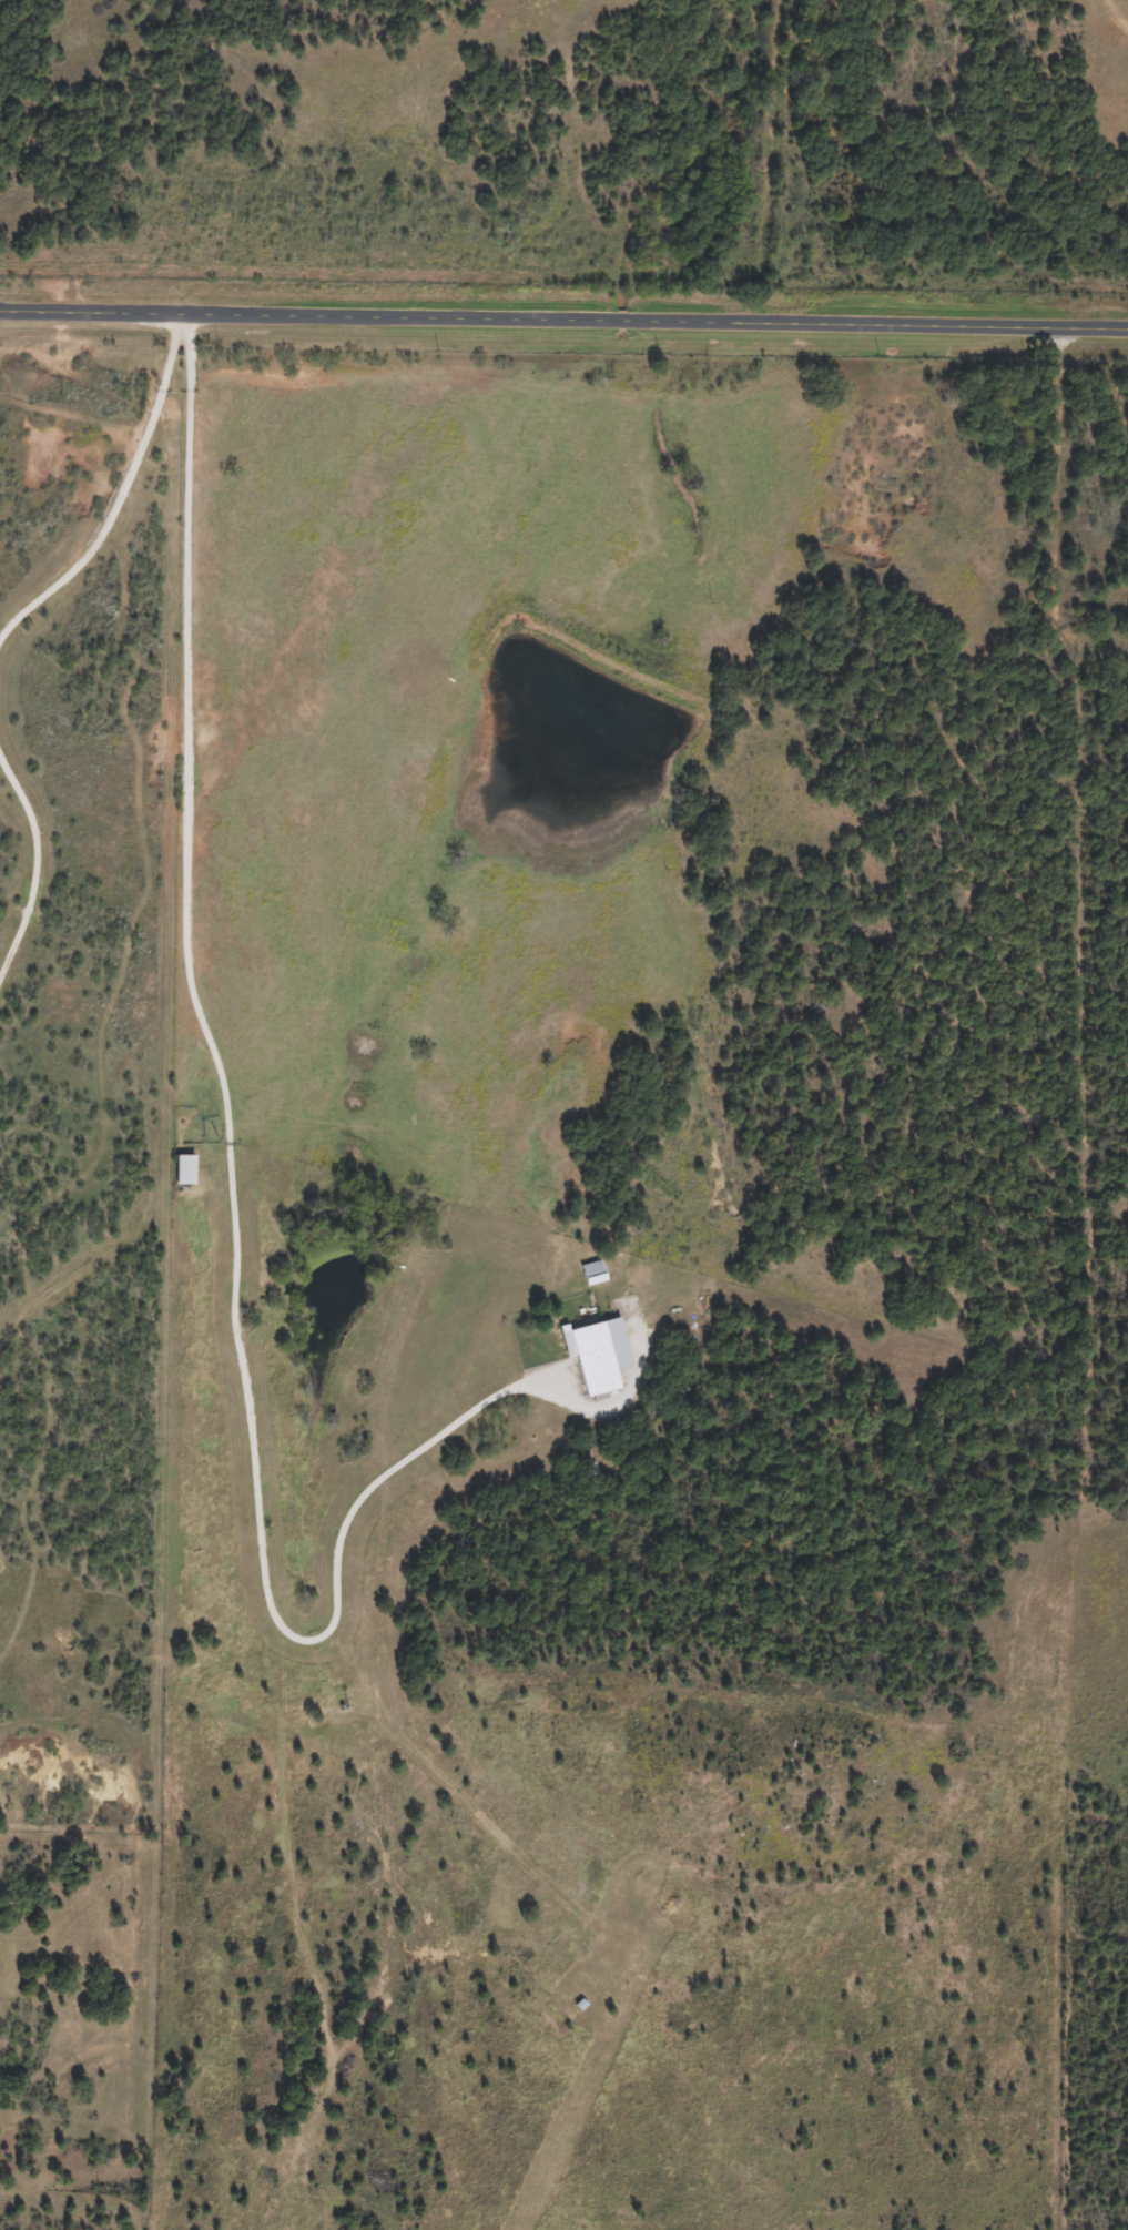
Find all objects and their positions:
road: (563, 317)
building: (187, 1169)
building: (595, 1271)
building: (600, 1354)

